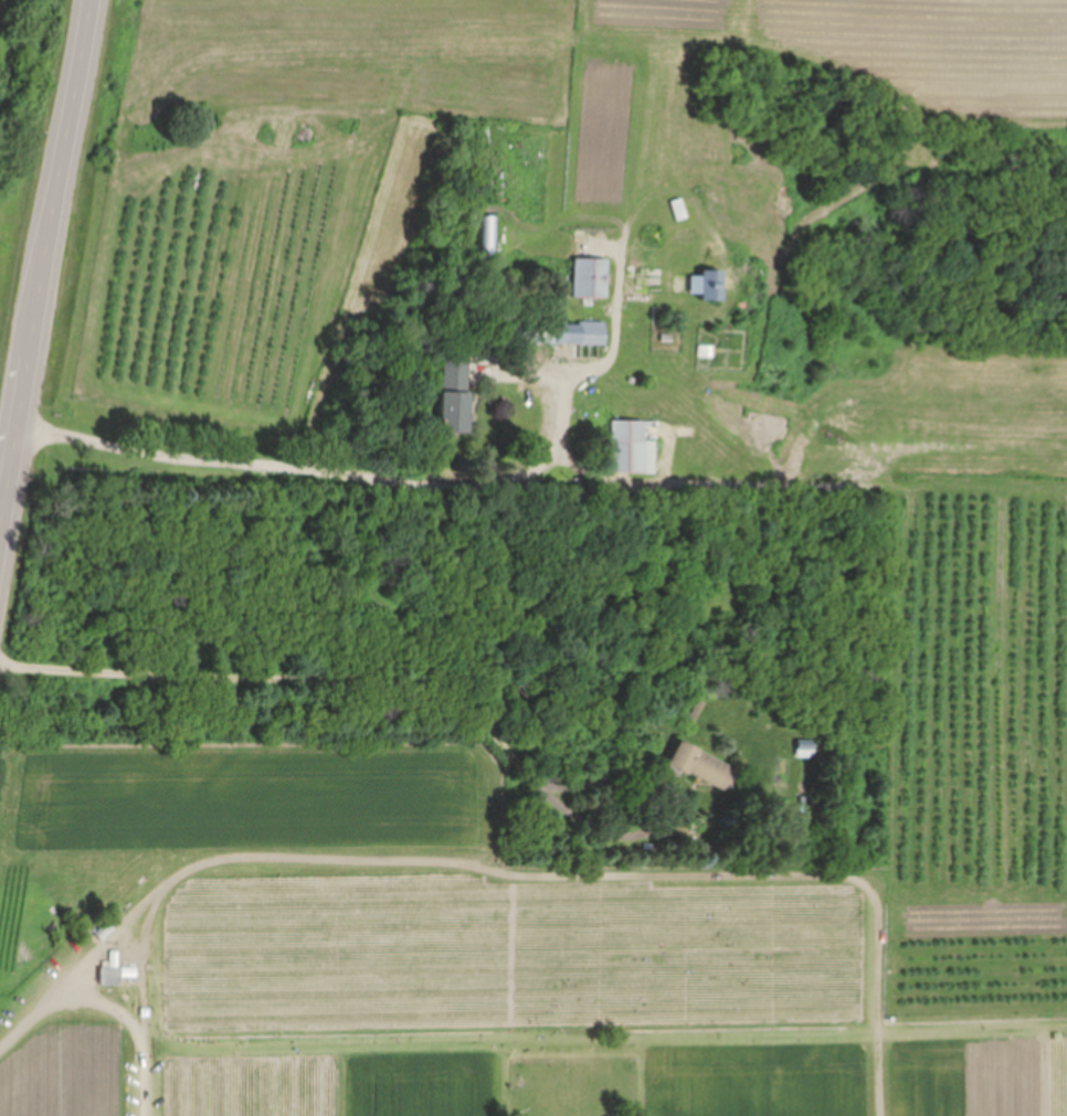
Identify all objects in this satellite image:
building: (486, 234)
road: (47, 274)
building: (591, 277)
building: (716, 284)
building: (557, 332)
building: (455, 392)
building: (633, 448)
road: (332, 470)
road: (614, 481)
road: (3, 501)
road: (314, 679)
building: (807, 748)
building: (705, 766)
road: (315, 857)
road: (91, 964)
building: (112, 975)

